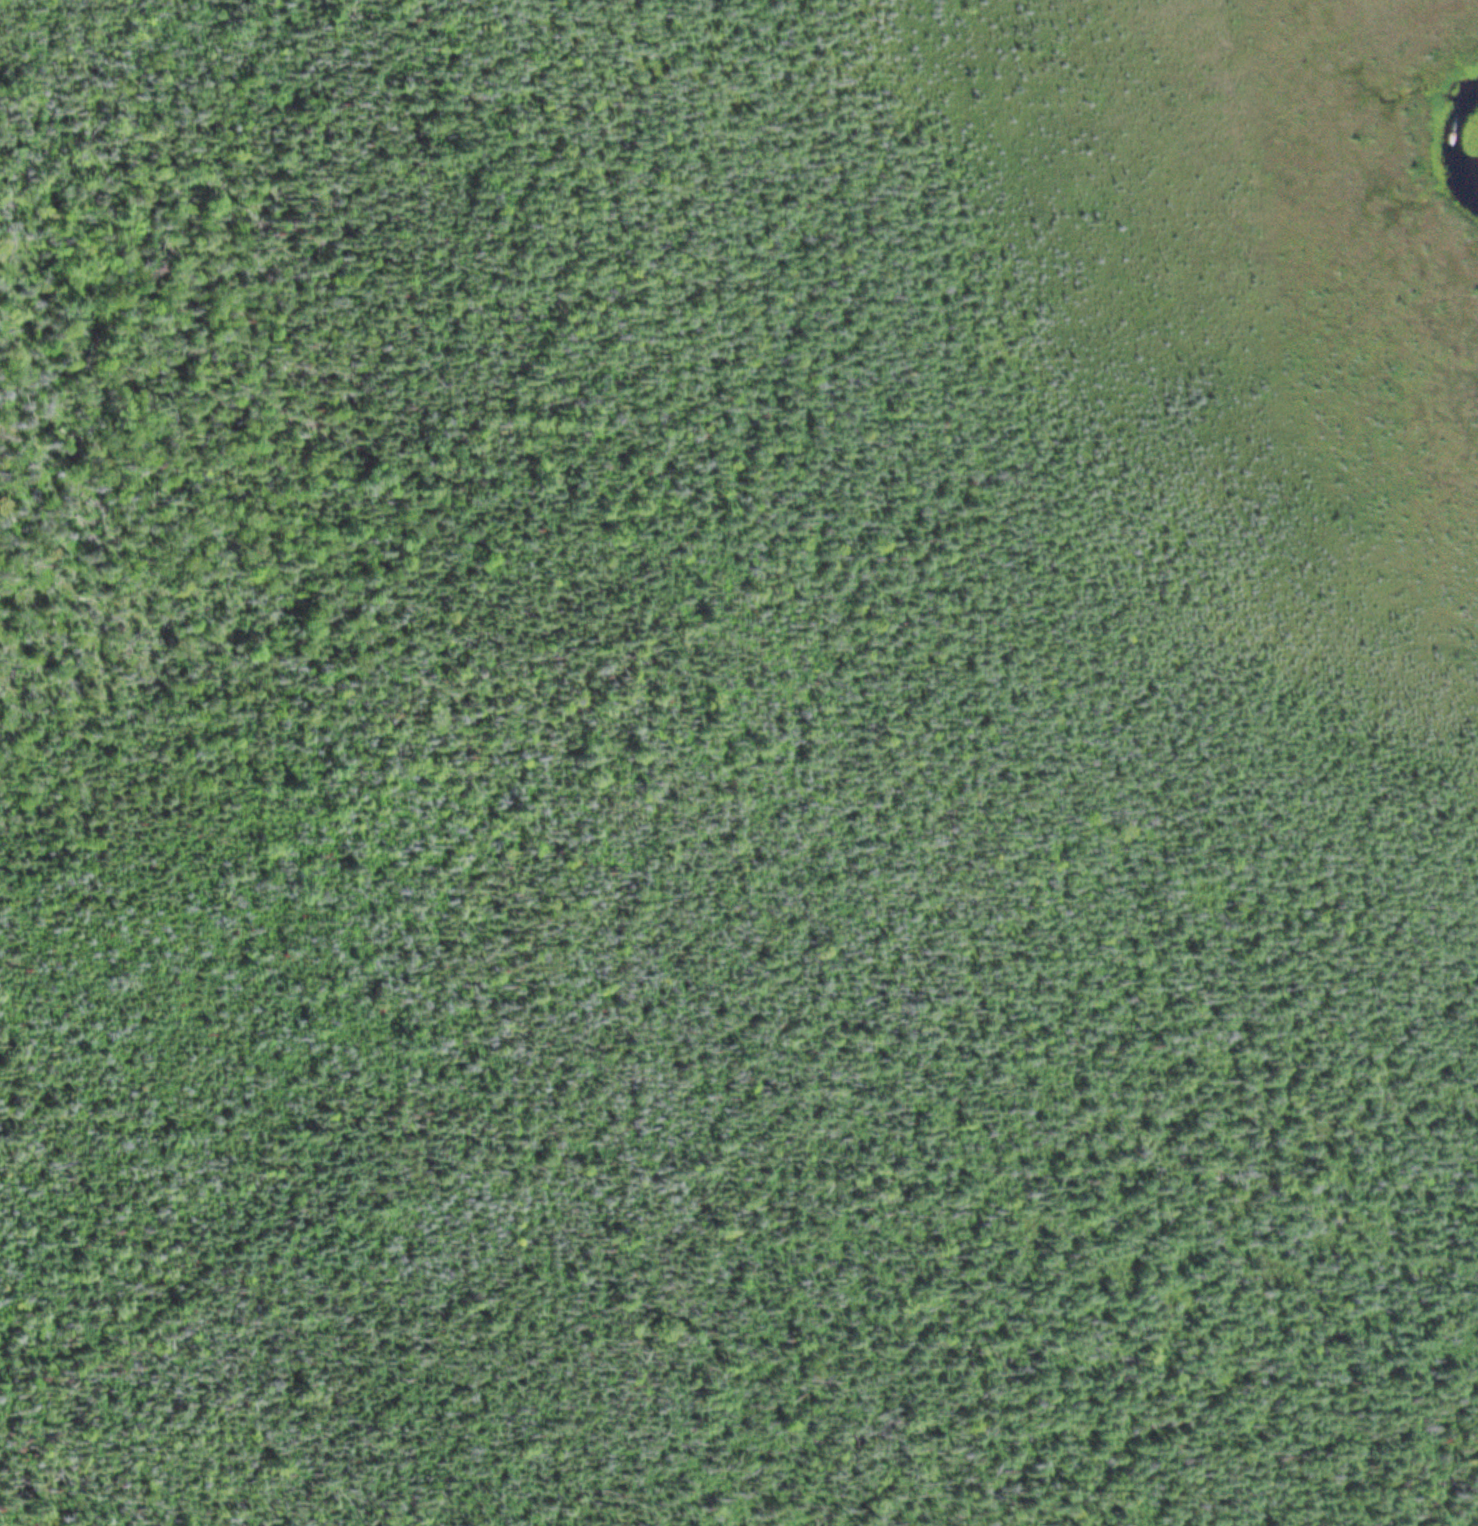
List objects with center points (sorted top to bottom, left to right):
river: (1452, 145)

